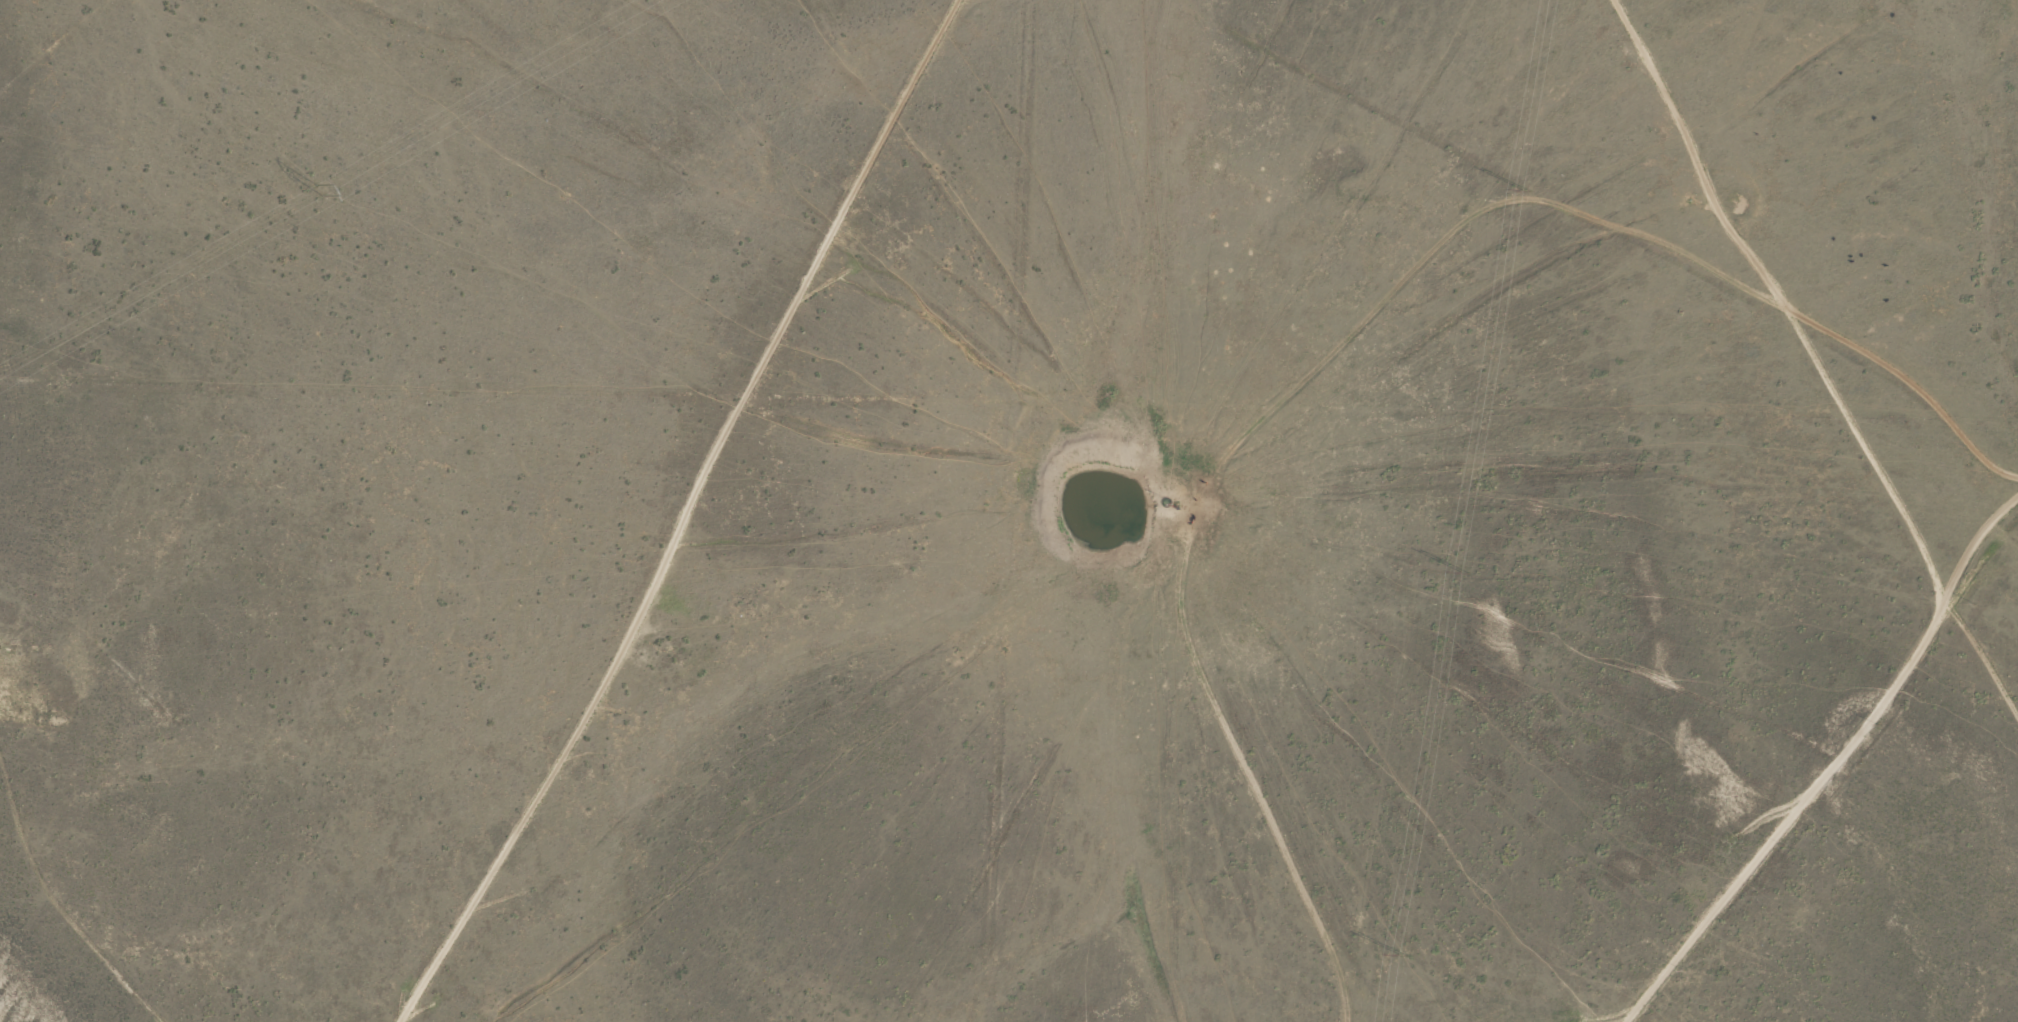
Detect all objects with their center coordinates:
power tower: (316, 185)
power tower: (1525, 188)
road: (1600, 222)
power tower: (1464, 572)
road: (1640, 681)
road: (1850, 714)
power tower: (1403, 952)

